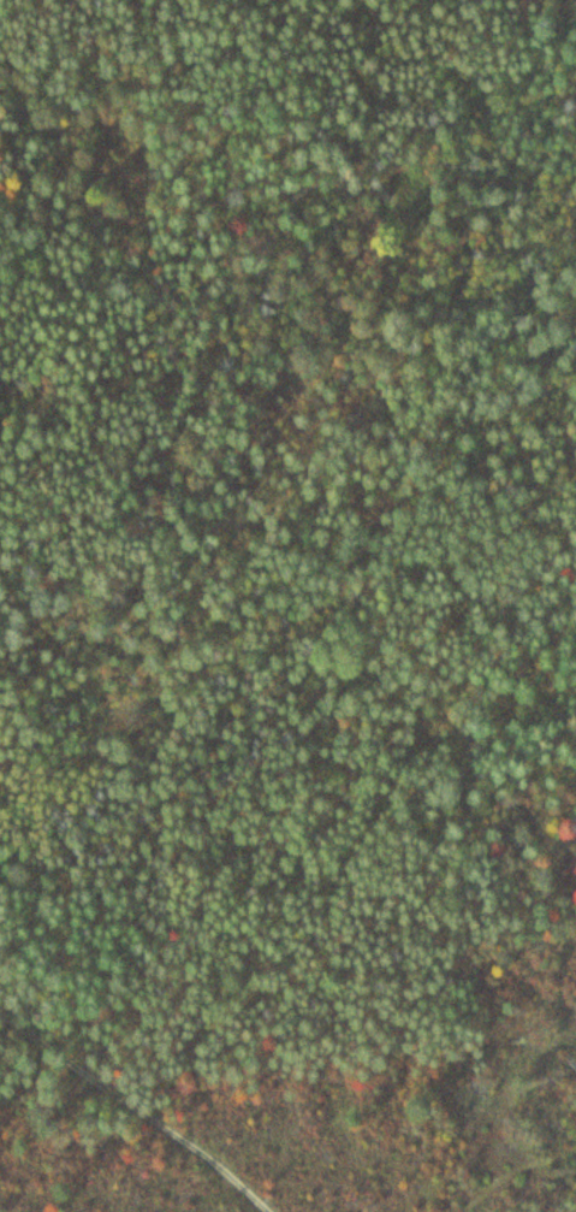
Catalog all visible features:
road: (135, 1106)

